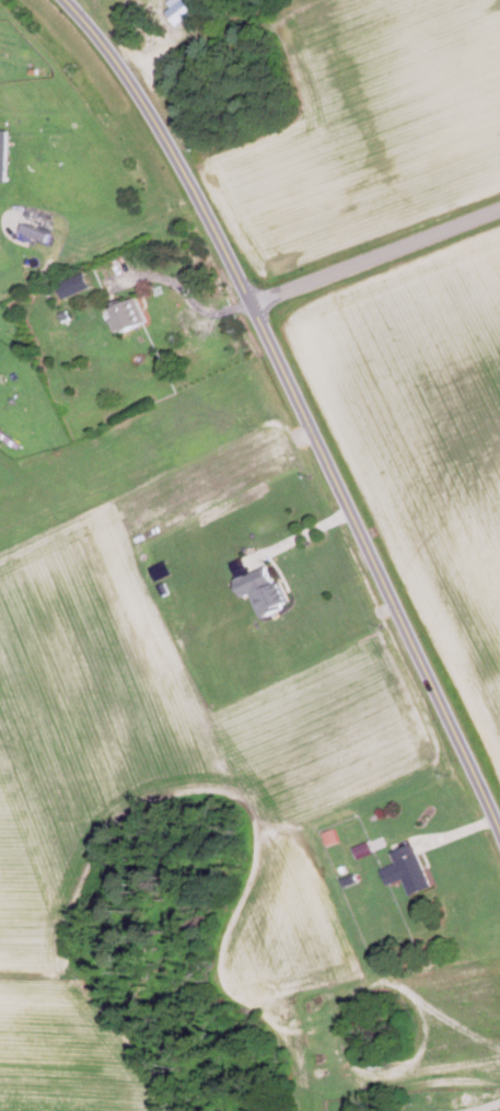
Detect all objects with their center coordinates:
building: (4, 154)
road: (379, 257)
building: (128, 315)
road: (303, 402)
road: (303, 534)
building: (263, 588)
building: (407, 868)
road: (487, 1107)

